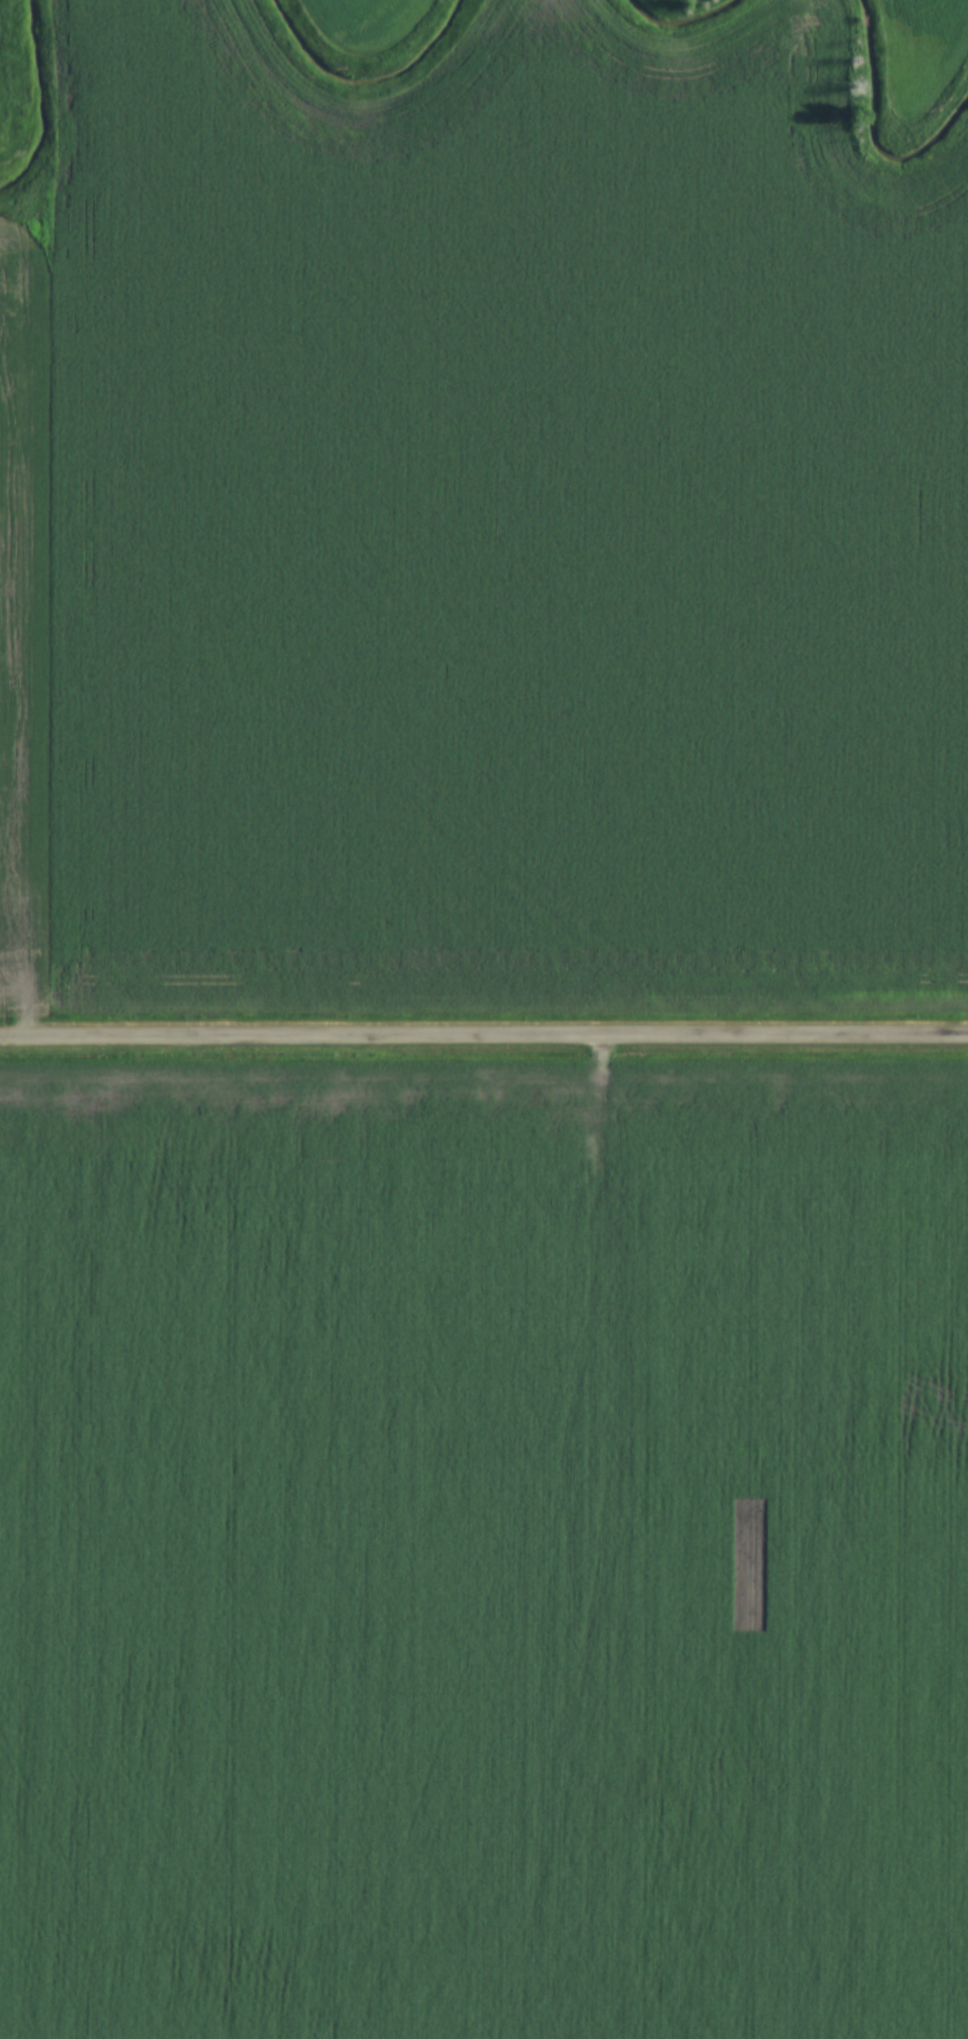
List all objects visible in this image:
road: (484, 1037)

